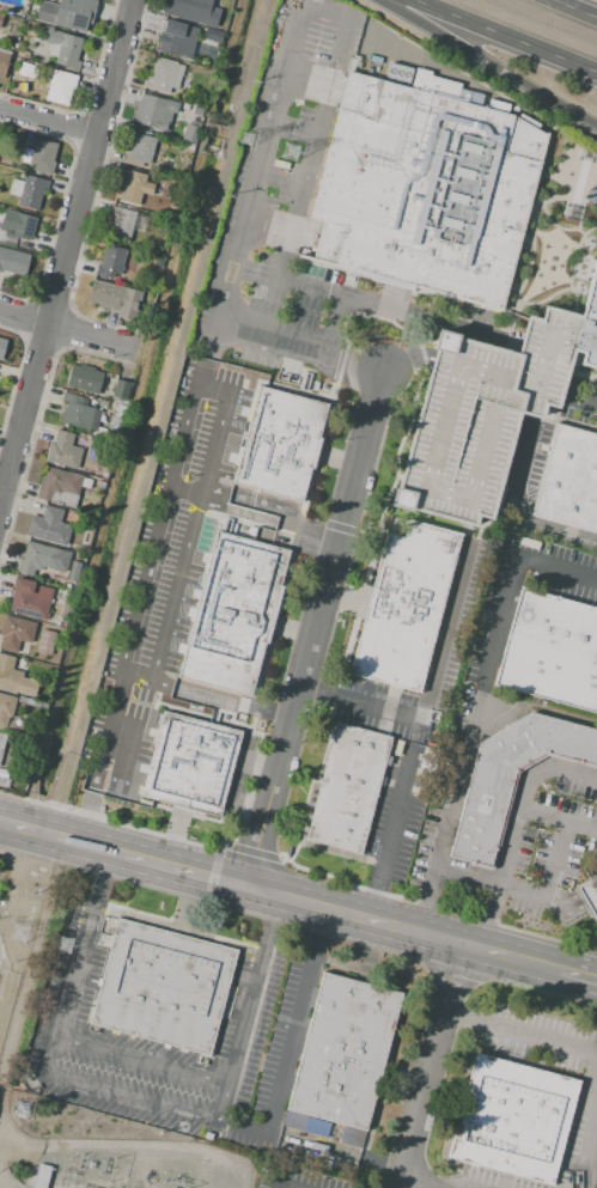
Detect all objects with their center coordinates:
road: (575, 8)
building: (193, 12)
building: (66, 14)
building: (0, 17)
road: (506, 36)
building: (176, 41)
building: (63, 48)
building: (23, 54)
road: (489, 61)
building: (2, 62)
building: (22, 68)
building: (163, 77)
building: (61, 87)
road: (275, 109)
building: (153, 112)
building: (197, 112)
road: (48, 122)
building: (188, 134)
power tower: (250, 138)
building: (139, 151)
power tower: (288, 152)
building: (39, 157)
building: (8, 162)
building: (132, 187)
building: (16, 188)
building: (32, 191)
building: (425, 193)
building: (121, 223)
building: (18, 224)
road: (66, 250)
building: (12, 261)
building: (158, 261)
building: (111, 262)
road: (276, 272)
building: (115, 298)
road: (275, 325)
road: (68, 329)
road: (335, 330)
building: (2, 346)
road: (270, 348)
road: (354, 361)
road: (548, 363)
building: (84, 378)
building: (121, 390)
road: (578, 400)
road: (537, 406)
building: (78, 412)
building: (486, 413)
building: (281, 446)
building: (62, 450)
road: (523, 458)
building: (104, 474)
building: (86, 483)
road: (188, 483)
building: (568, 483)
building: (99, 485)
building: (59, 487)
road: (184, 496)
road: (255, 500)
road: (243, 513)
road: (197, 523)
building: (49, 526)
road: (312, 530)
road: (156, 532)
building: (38, 559)
building: (74, 568)
building: (30, 598)
building: (407, 607)
building: (65, 614)
building: (233, 615)
building: (63, 623)
road: (317, 628)
building: (14, 633)
building: (45, 642)
building: (33, 647)
building: (550, 651)
building: (19, 680)
road: (431, 692)
road: (115, 700)
road: (206, 700)
building: (42, 706)
road: (480, 707)
building: (6, 709)
building: (0, 733)
building: (33, 733)
building: (1, 745)
road: (100, 763)
building: (191, 764)
road: (118, 775)
building: (511, 779)
building: (5, 782)
building: (349, 790)
road: (559, 821)
road: (516, 830)
road: (61, 835)
road: (389, 842)
road: (189, 871)
road: (530, 890)
road: (267, 892)
building: (589, 897)
road: (571, 907)
road: (402, 927)
power tower: (17, 940)
power tower: (63, 946)
road: (543, 964)
road: (579, 974)
building: (163, 987)
building: (345, 1050)
road: (586, 1050)
road: (145, 1059)
road: (435, 1066)
road: (278, 1093)
road: (133, 1096)
power tower: (23, 1110)
building: (513, 1120)
building: (351, 1135)
power substation: (133, 1165)
building: (39, 1176)

